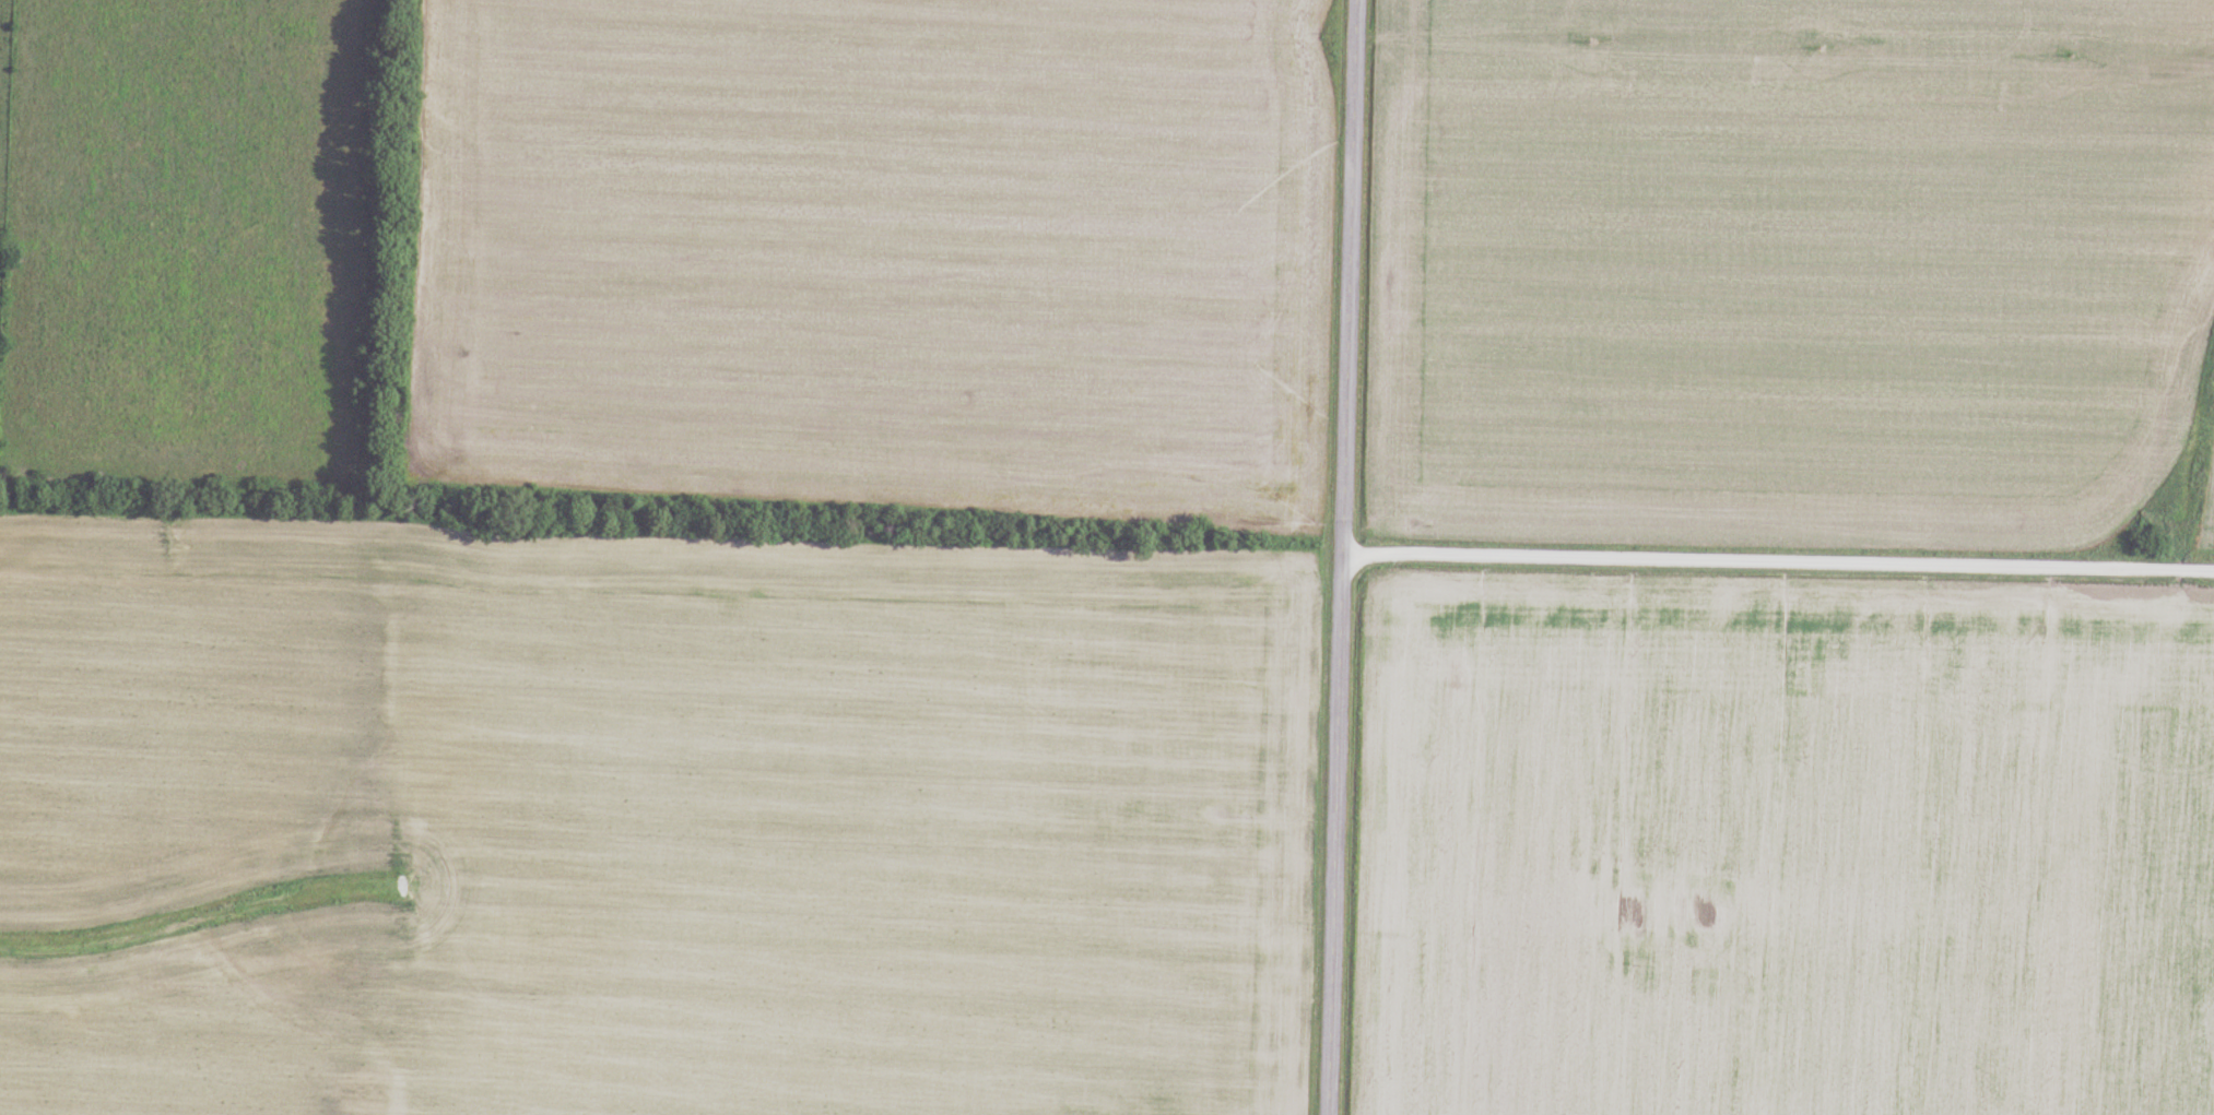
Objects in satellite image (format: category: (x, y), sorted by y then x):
road: (1339, 557)
road: (1776, 568)

